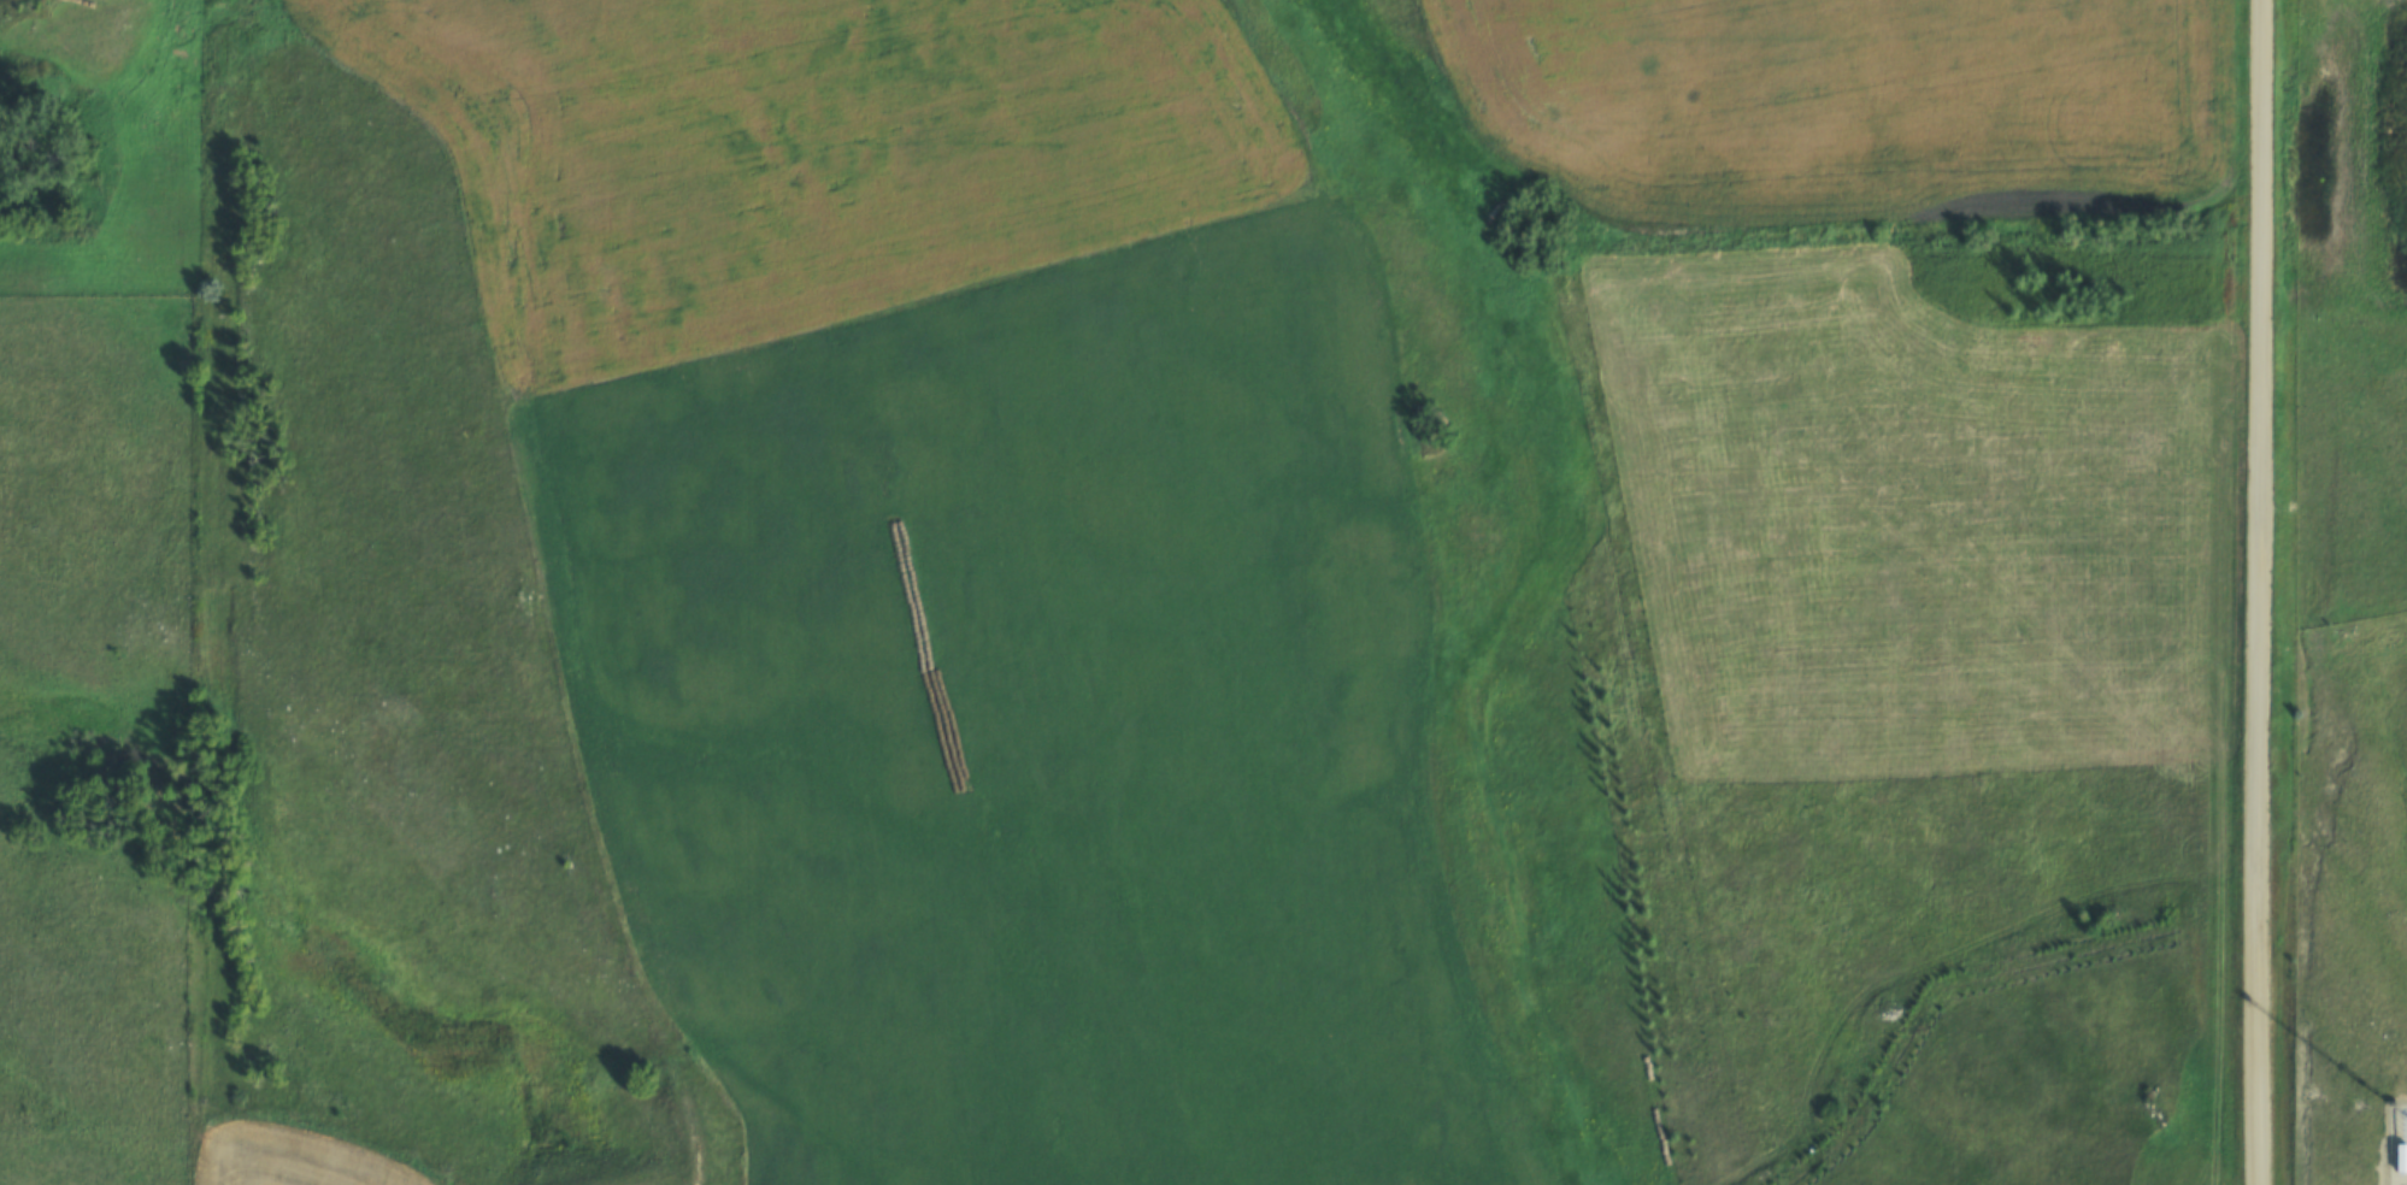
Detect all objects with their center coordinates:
road: (2265, 591)
building: (2403, 1148)

